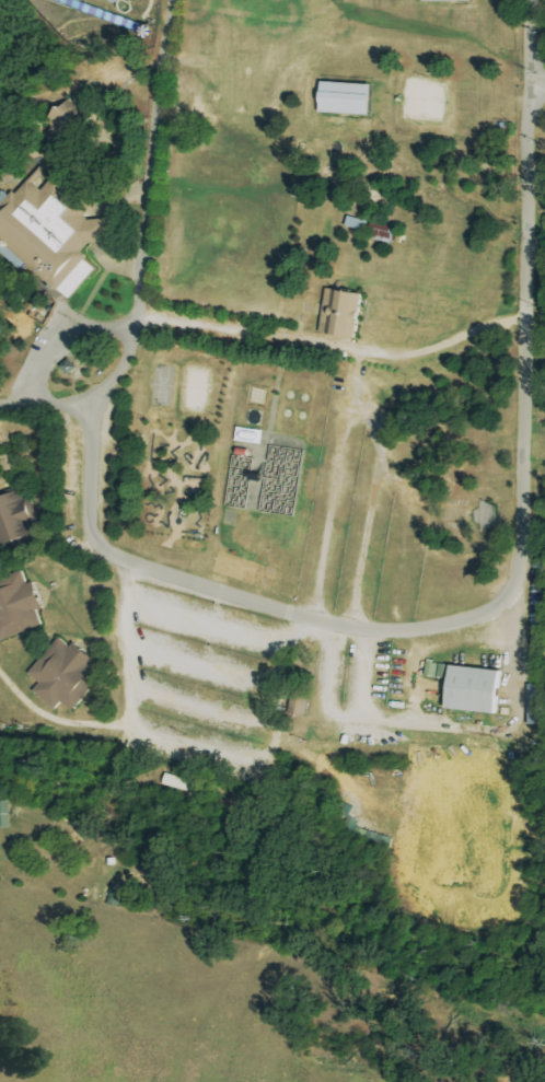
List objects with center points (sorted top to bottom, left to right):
building: (7, 10)
road: (529, 49)
road: (434, 55)
road: (235, 61)
road: (127, 63)
road: (89, 74)
road: (78, 94)
building: (350, 98)
park: (426, 101)
building: (69, 121)
road: (37, 123)
road: (381, 131)
park: (230, 153)
road: (301, 158)
road: (43, 164)
building: (358, 223)
road: (97, 224)
building: (46, 226)
building: (97, 230)
building: (383, 230)
road: (144, 251)
road: (292, 267)
road: (42, 284)
road: (94, 291)
road: (420, 307)
building: (344, 313)
road: (67, 342)
road: (334, 342)
park: (183, 383)
road: (278, 383)
road: (355, 392)
park: (290, 395)
park: (305, 398)
park: (287, 414)
park: (302, 416)
park: (254, 417)
road: (393, 438)
parking lot: (111, 459)
road: (66, 464)
road: (314, 473)
parking lot: (353, 491)
road: (68, 495)
park: (280, 501)
theme park: (280, 501)
building: (15, 517)
road: (132, 526)
parking lot: (207, 566)
road: (72, 569)
building: (18, 605)
road: (479, 614)
road: (211, 625)
road: (108, 635)
road: (453, 642)
road: (131, 644)
road: (208, 665)
building: (63, 674)
parking lot: (202, 675)
parking lot: (353, 676)
road: (406, 682)
road: (3, 688)
building: (472, 689)
road: (511, 693)
building: (299, 700)
building: (538, 705)
road: (204, 707)
road: (348, 714)
road: (56, 719)
road: (505, 728)
road: (270, 755)
road: (315, 760)
road: (47, 819)
road: (106, 859)

